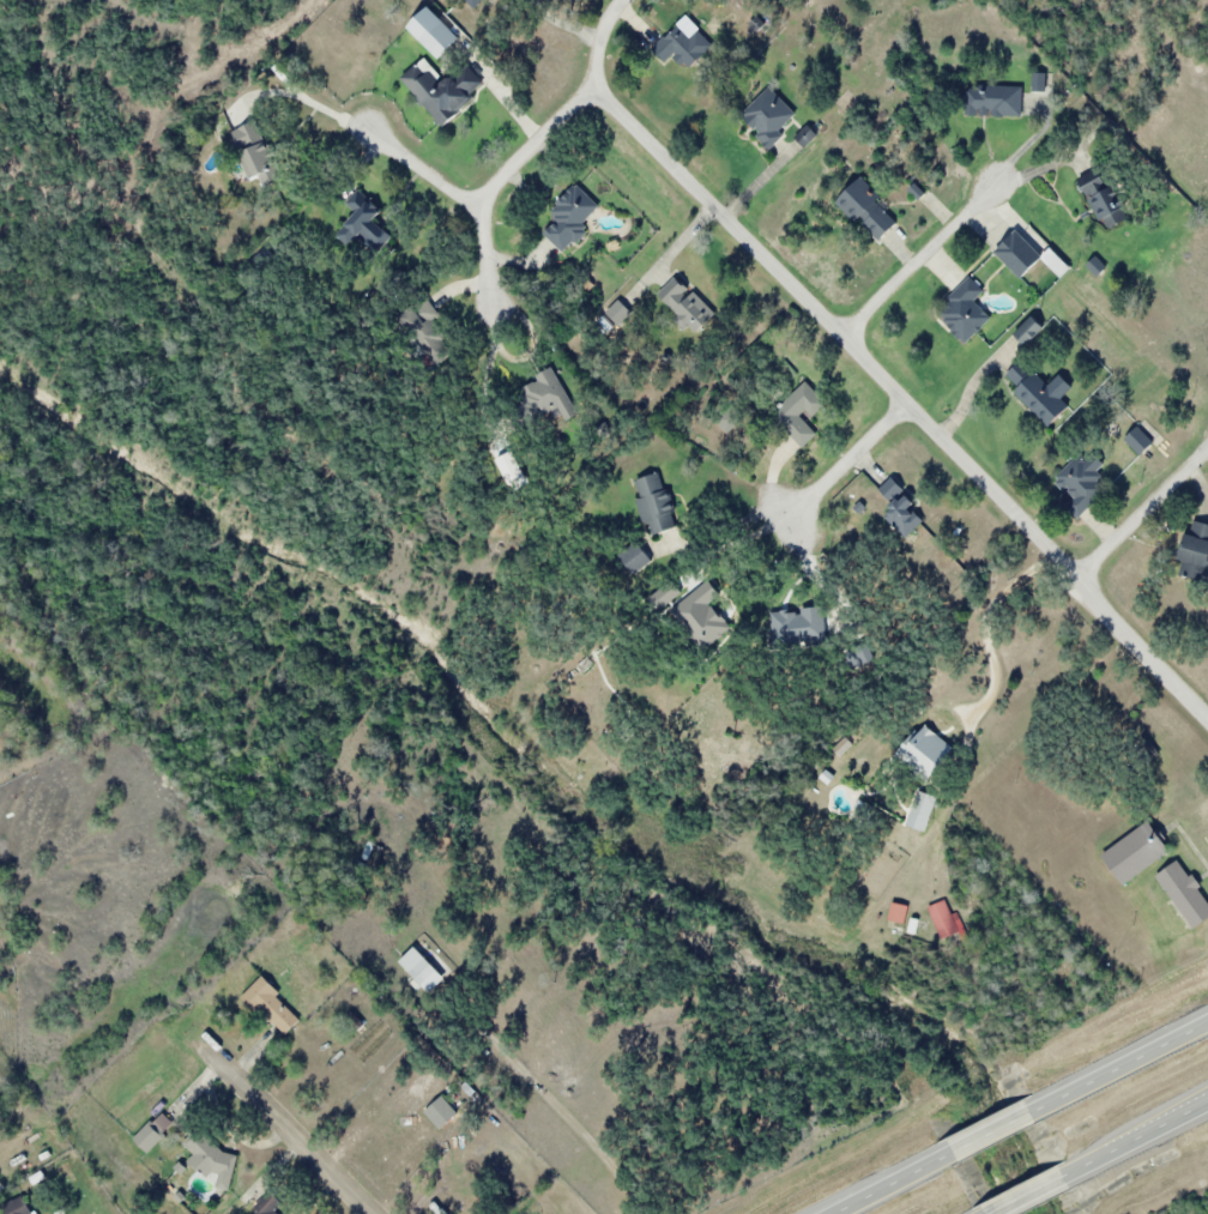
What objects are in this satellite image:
building: (476, 1)
building: (436, 34)
building: (685, 50)
building: (442, 91)
building: (993, 99)
building: (769, 116)
building: (807, 137)
road: (530, 147)
building: (262, 152)
road: (425, 170)
building: (1104, 199)
building: (869, 211)
building: (570, 217)
building: (362, 225)
building: (1021, 254)
road: (917, 261)
building: (684, 302)
building: (966, 312)
building: (1041, 392)
building: (542, 394)
road: (902, 397)
building: (797, 416)
building: (1141, 439)
road: (847, 459)
building: (1083, 482)
building: (657, 505)
building: (901, 508)
road: (1142, 517)
building: (1197, 550)
building: (638, 560)
building: (712, 621)
building: (807, 623)
building: (929, 753)
building: (922, 810)
building: (1137, 853)
building: (1186, 893)
building: (899, 913)
building: (944, 919)
building: (423, 970)
building: (272, 1007)
road: (1021, 1117)
road: (289, 1130)
building: (155, 1131)
road: (1103, 1158)
building: (211, 1159)
building: (268, 1204)

